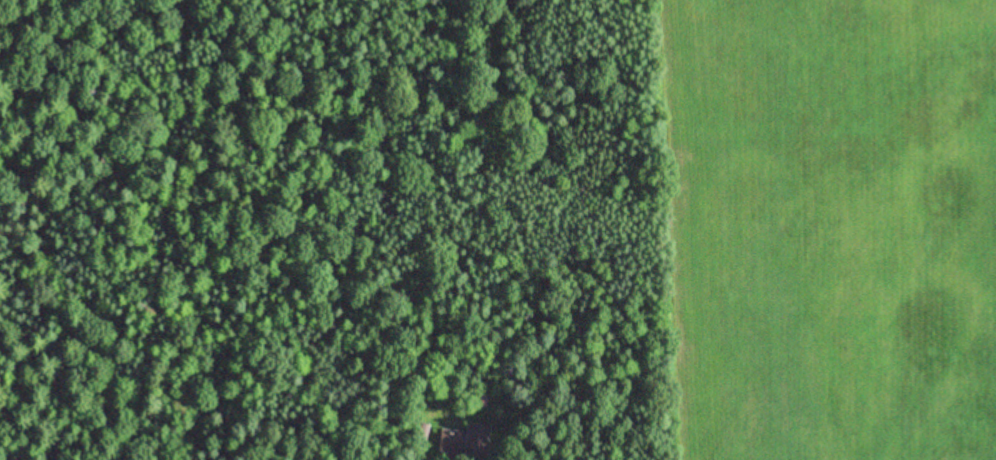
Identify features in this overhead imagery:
building: (462, 442)

